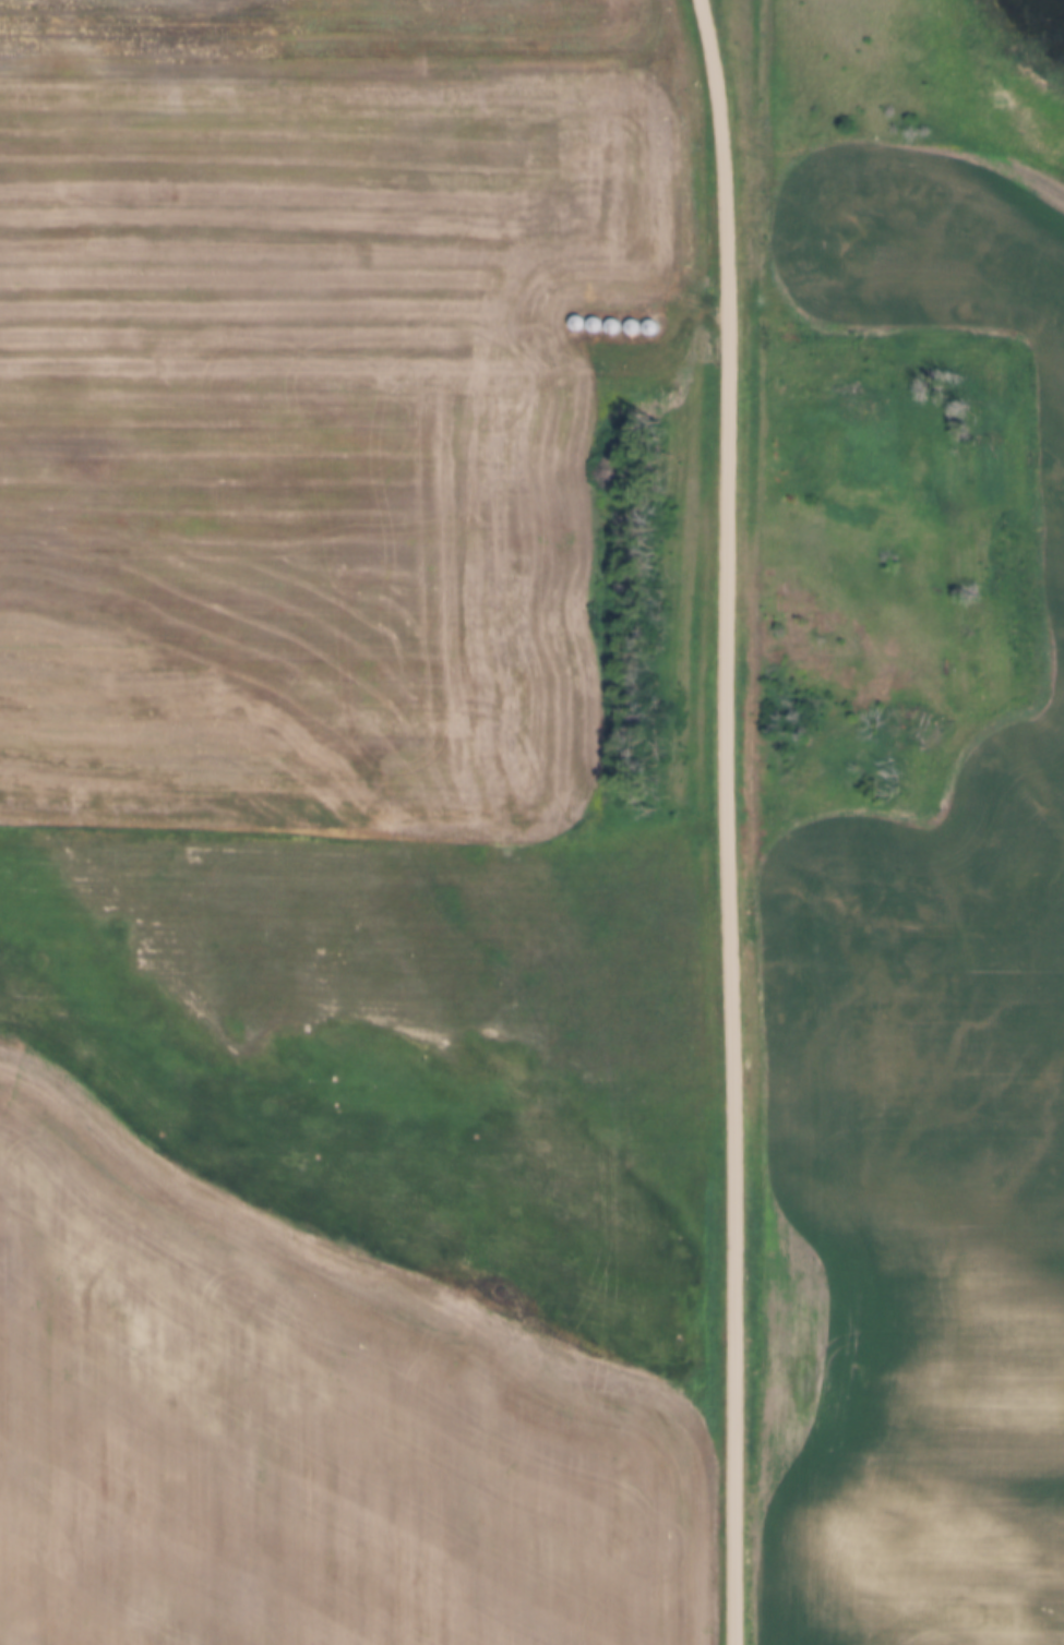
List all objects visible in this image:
road: (725, 821)

